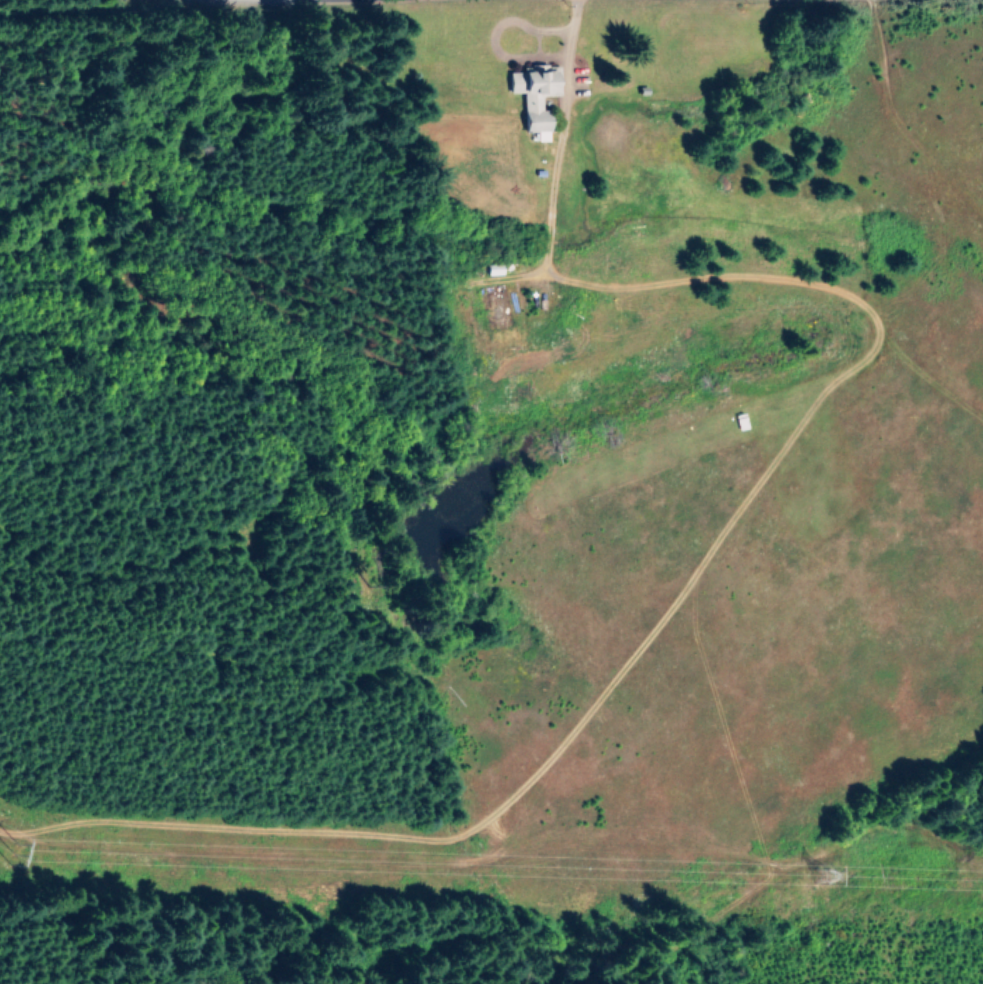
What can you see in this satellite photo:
road: (556, 140)
building: (491, 268)
power tower: (11, 850)
power tower: (811, 868)

